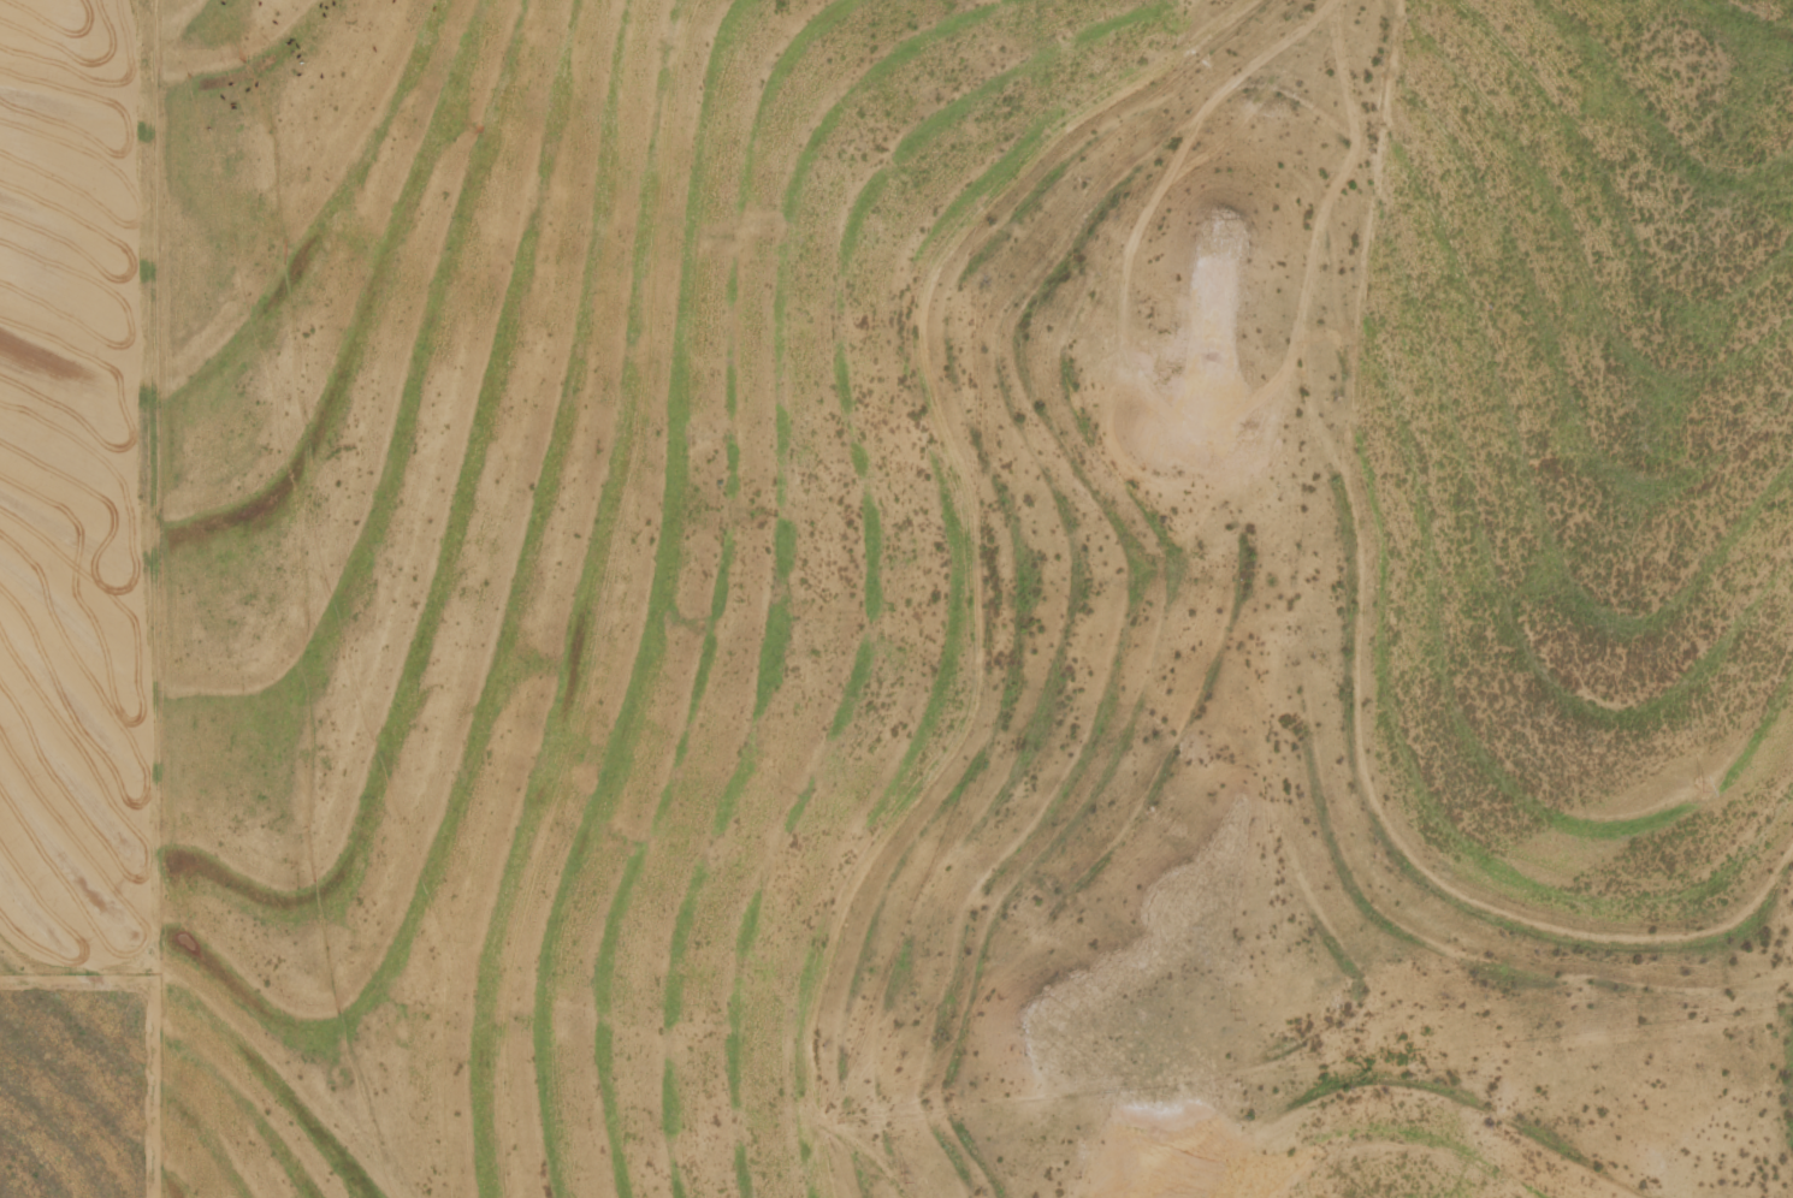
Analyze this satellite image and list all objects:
power tower: (1703, 782)
power tower: (1236, 1014)
power tower: (905, 1174)

